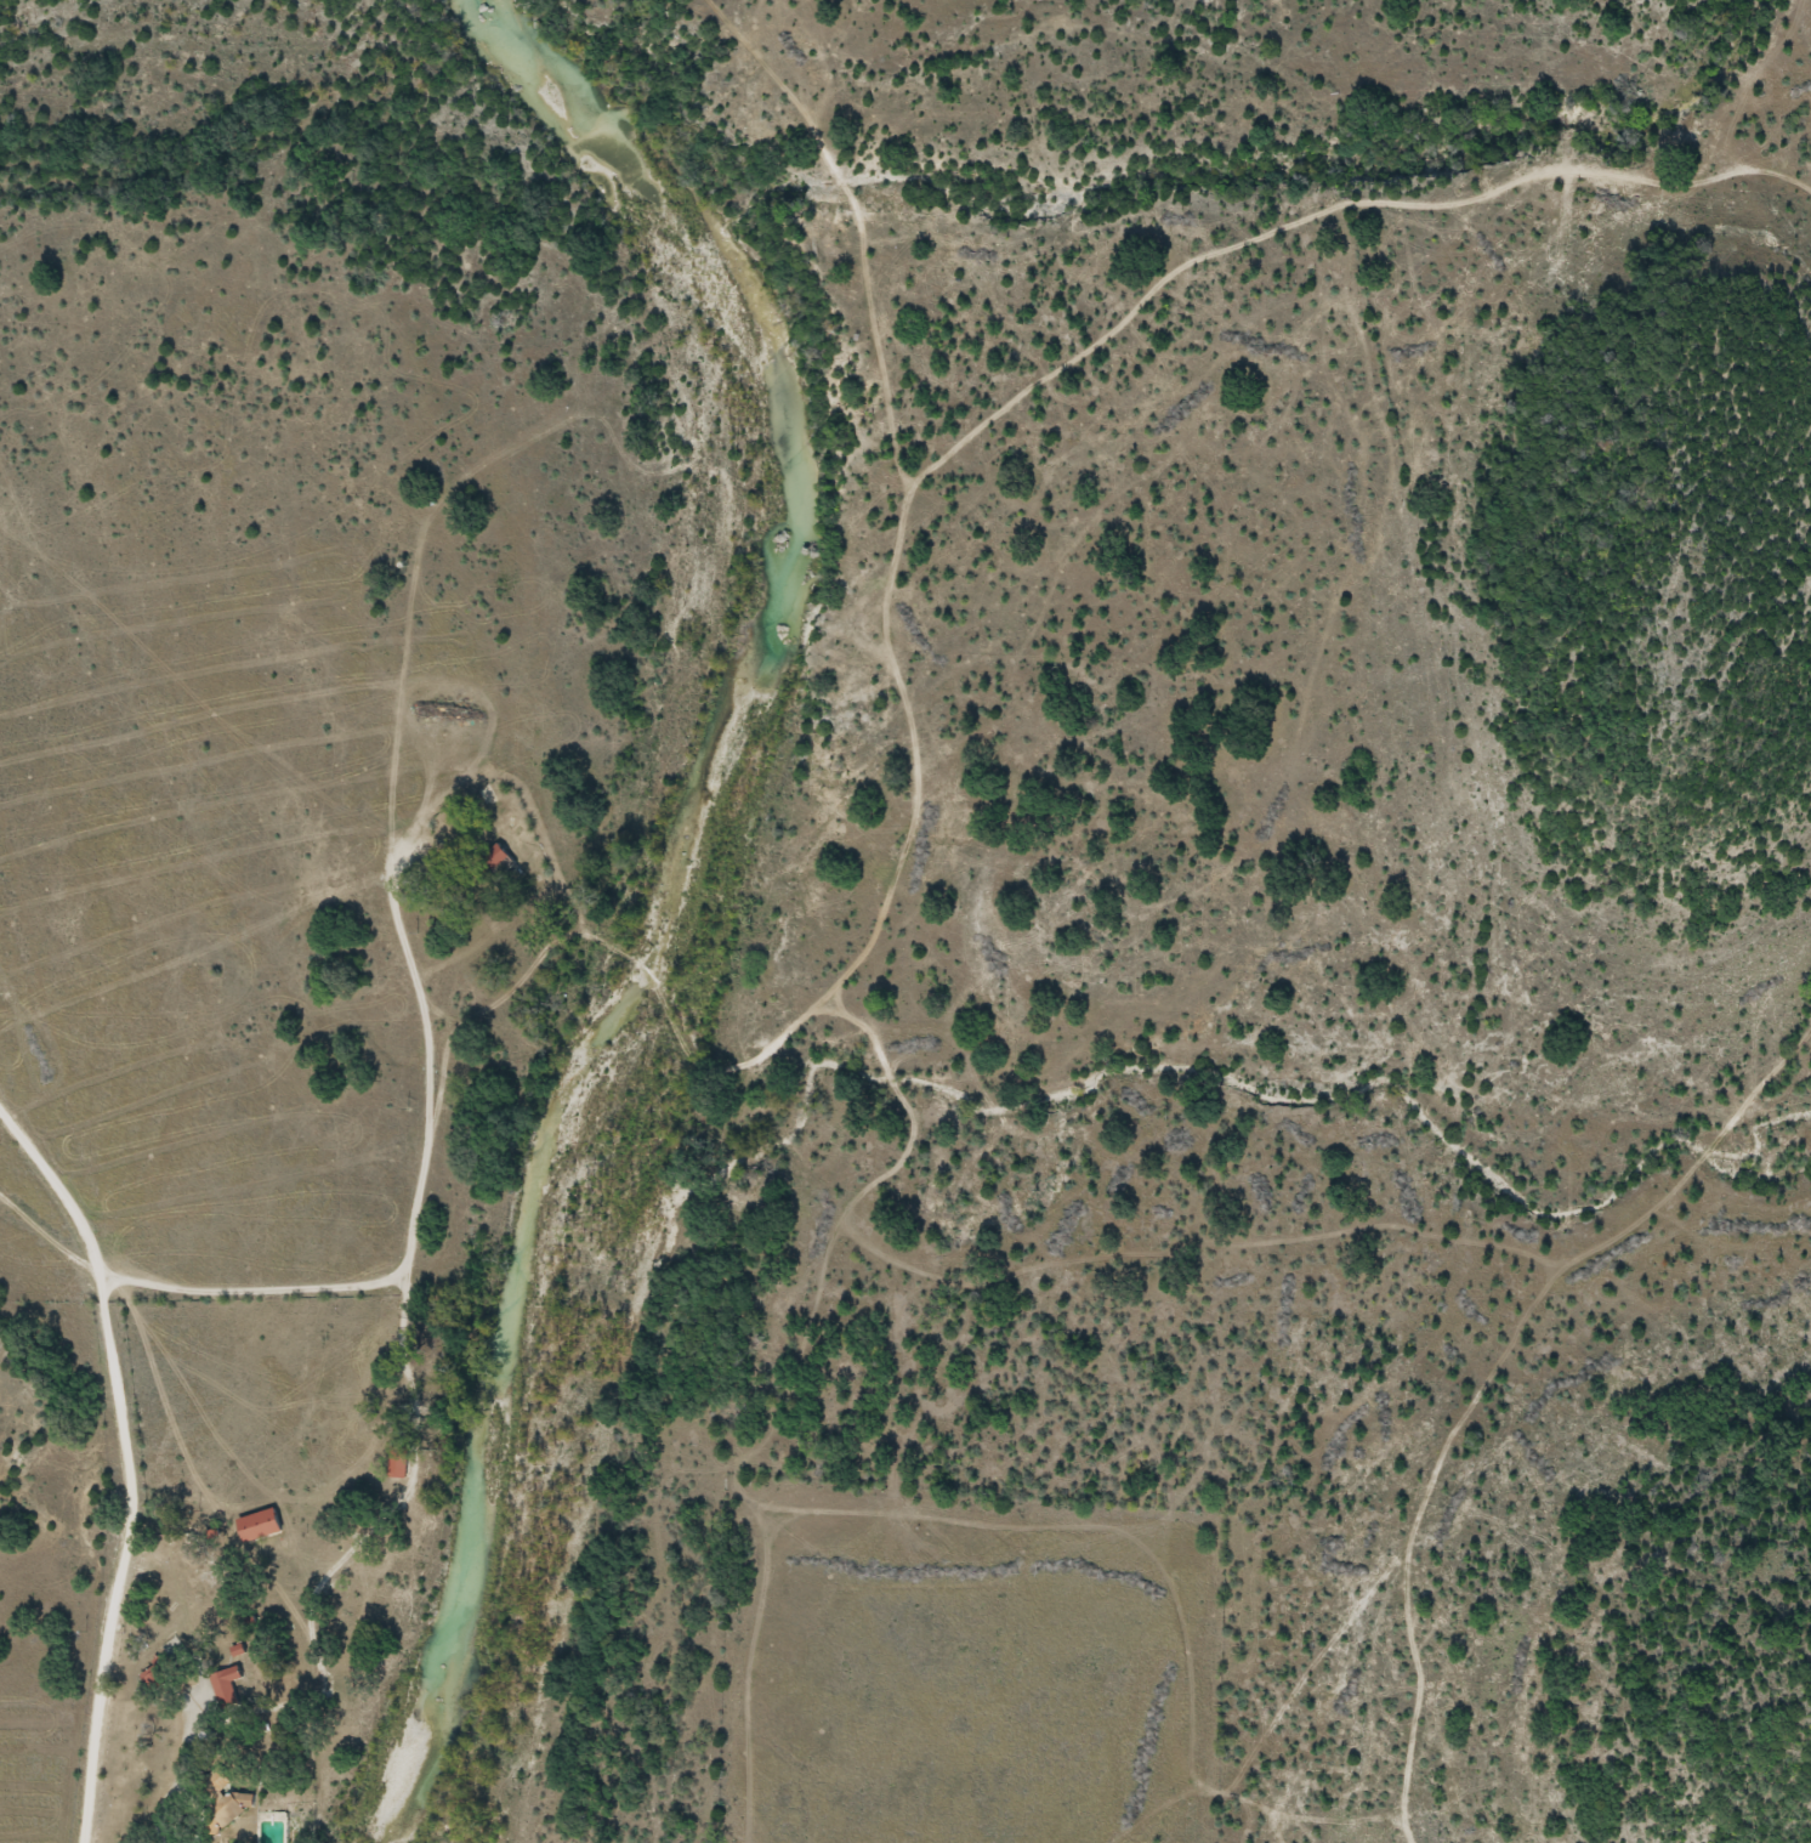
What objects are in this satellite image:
road: (899, 531)
building: (504, 857)
river: (670, 871)
road: (410, 1226)
road: (55, 1235)
road: (136, 1451)
building: (398, 1461)
building: (260, 1524)
building: (226, 1685)
building: (220, 1780)

